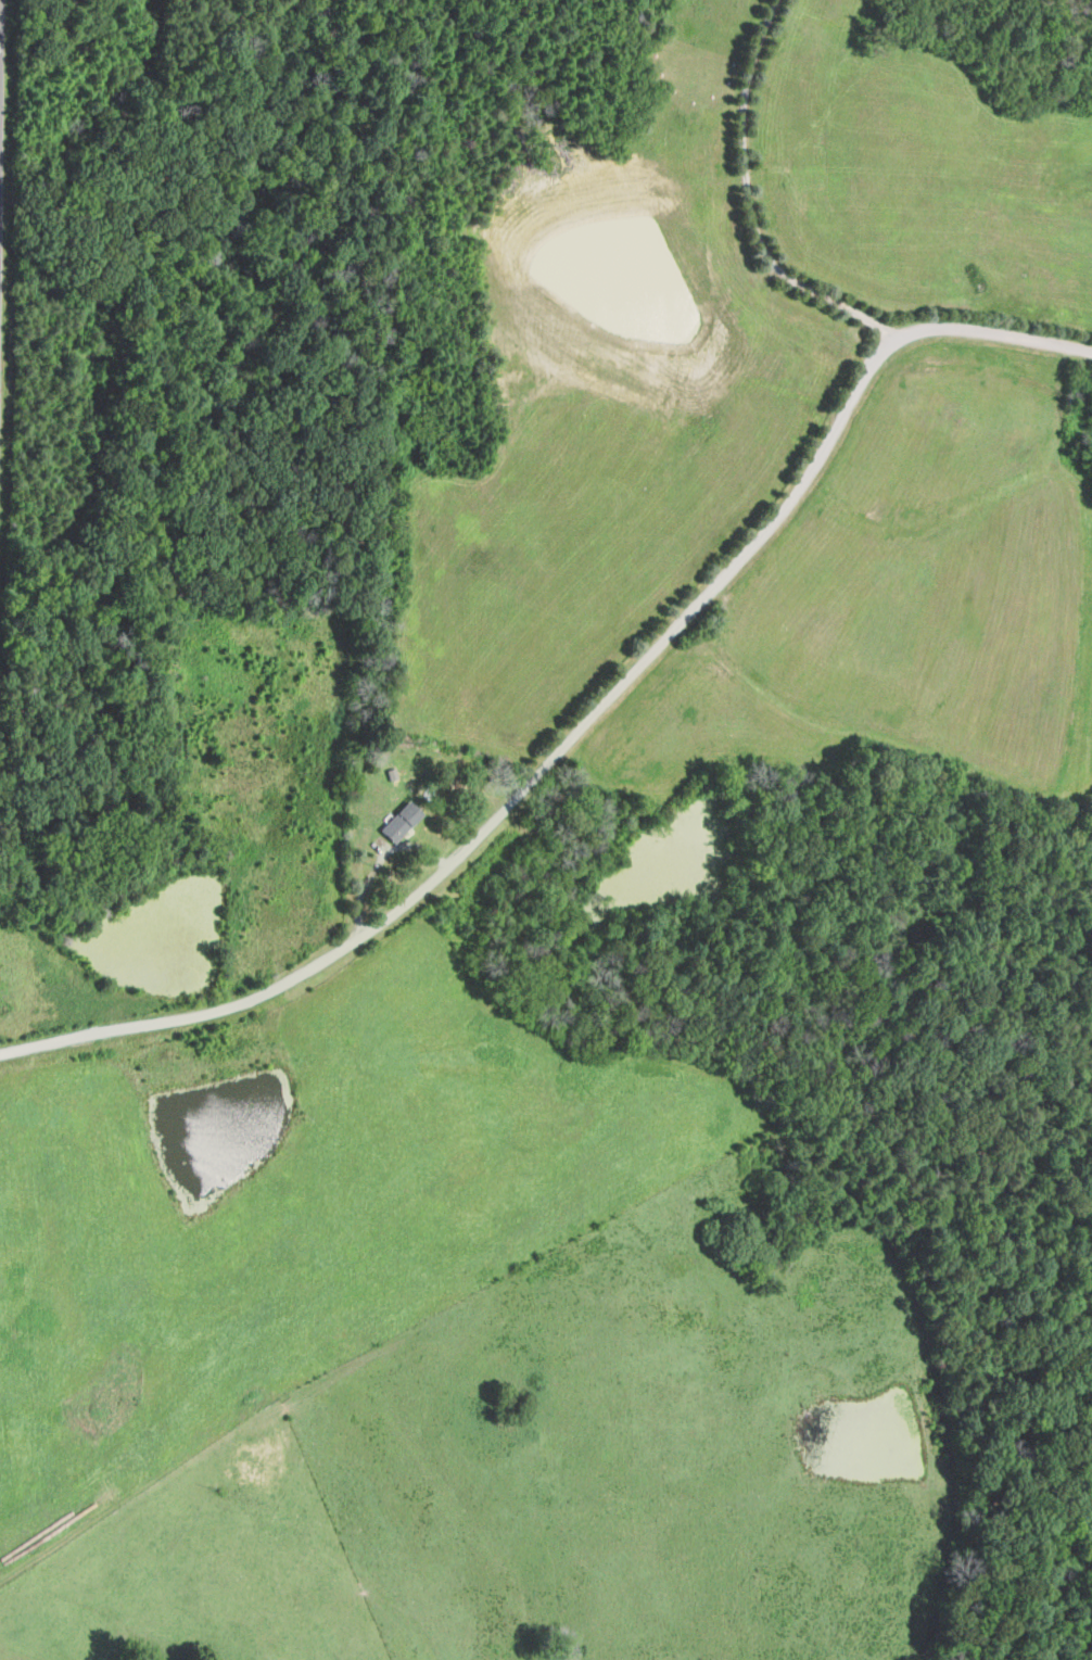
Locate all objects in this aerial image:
road: (746, 200)
road: (897, 337)
building: (397, 820)
road: (449, 865)

